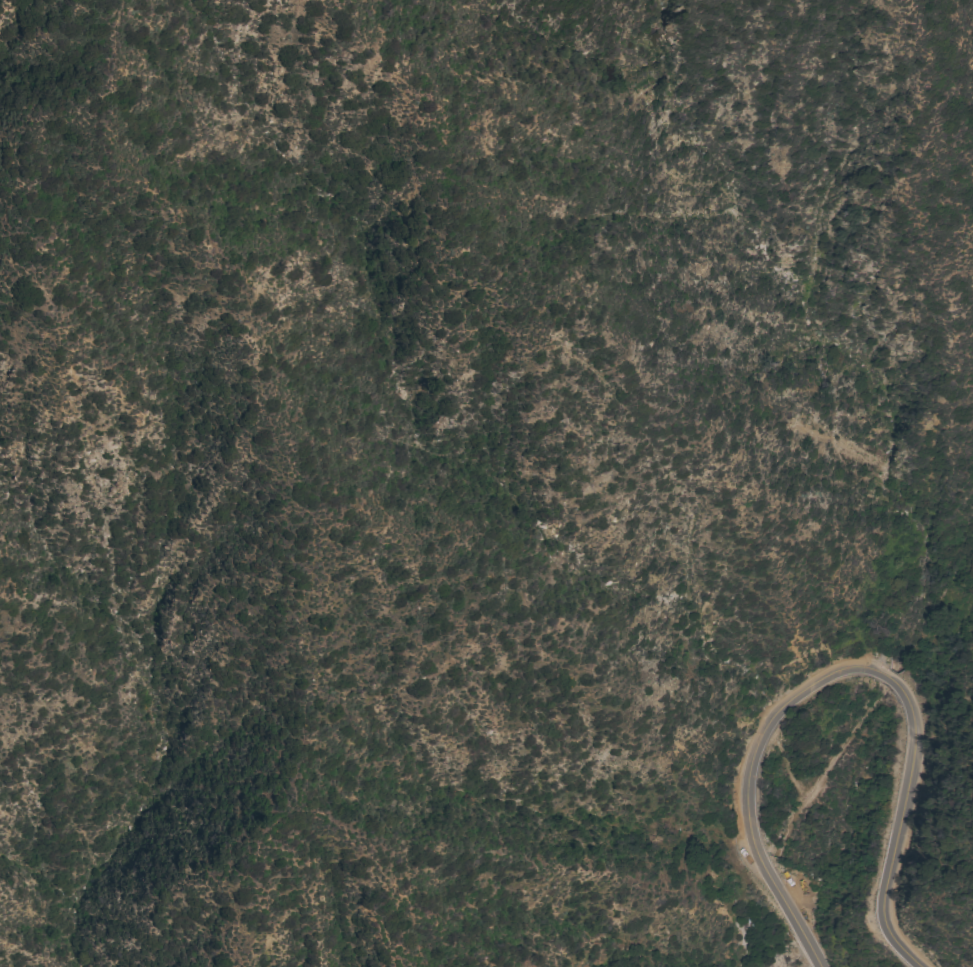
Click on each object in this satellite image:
road: (846, 671)

